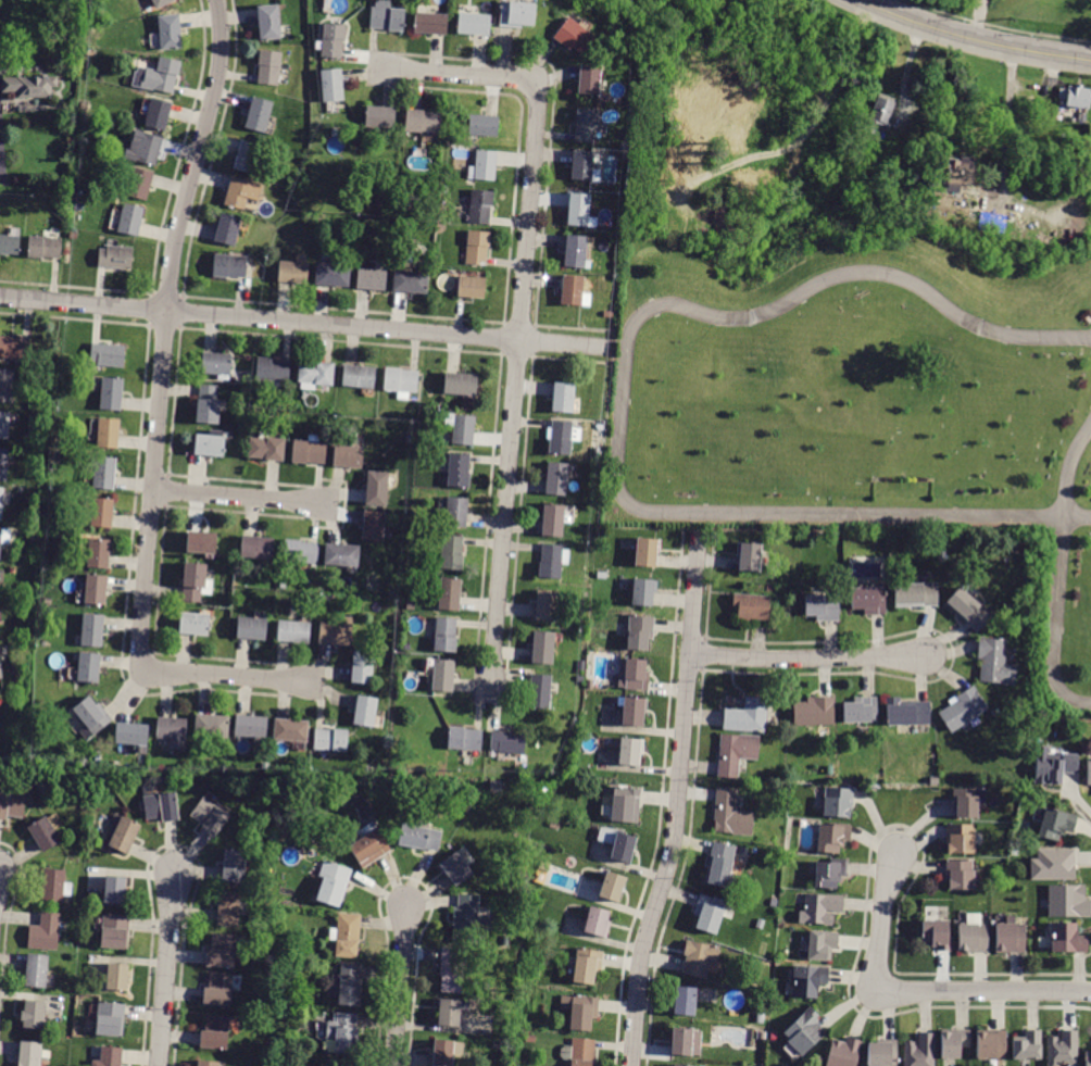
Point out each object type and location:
building: (161, 2)
building: (516, 14)
building: (387, 16)
building: (269, 22)
building: (430, 23)
building: (473, 24)
building: (170, 32)
building: (574, 37)
road: (973, 38)
building: (333, 40)
building: (89, 52)
building: (269, 67)
building: (156, 75)
building: (589, 79)
building: (30, 85)
building: (333, 85)
building: (1076, 96)
building: (629, 102)
building: (879, 111)
building: (159, 114)
building: (259, 114)
building: (379, 118)
building: (422, 121)
road: (1006, 124)
building: (482, 125)
building: (586, 125)
road: (812, 127)
building: (81, 142)
building: (149, 149)
building: (248, 156)
building: (680, 160)
building: (482, 166)
building: (585, 166)
building: (958, 174)
building: (622, 181)
building: (139, 183)
building: (242, 192)
building: (379, 203)
building: (480, 206)
building: (578, 209)
building: (929, 214)
building: (130, 220)
building: (228, 229)
building: (9, 244)
building: (45, 247)
building: (477, 248)
building: (576, 251)
building: (115, 256)
building: (230, 266)
building: (293, 273)
road: (853, 274)
building: (333, 275)
building: (372, 279)
building: (411, 281)
building: (472, 287)
building: (572, 290)
road: (522, 310)
road: (305, 323)
building: (14, 348)
building: (108, 354)
building: (217, 364)
building: (273, 372)
building: (316, 374)
building: (360, 377)
building: (401, 381)
building: (7, 385)
building: (462, 385)
building: (112, 393)
building: (564, 398)
park: (865, 398)
building: (209, 405)
building: (4, 425)
road: (156, 427)
building: (461, 428)
building: (599, 430)
building: (106, 432)
building: (562, 437)
building: (210, 444)
building: (267, 448)
building: (310, 451)
building: (595, 452)
building: (349, 456)
building: (3, 463)
building: (459, 471)
road: (1073, 471)
building: (103, 472)
building: (556, 478)
building: (377, 489)
road: (248, 499)
building: (1, 502)
building: (100, 512)
building: (456, 512)
road: (757, 517)
building: (553, 519)
road: (1078, 522)
building: (374, 526)
building: (603, 535)
building: (4, 537)
building: (202, 542)
building: (259, 549)
building: (301, 551)
building: (452, 552)
building: (645, 552)
building: (99, 553)
building: (941, 555)
building: (342, 556)
building: (749, 556)
building: (552, 561)
building: (601, 576)
building: (193, 581)
building: (96, 590)
building: (643, 592)
building: (450, 594)
building: (916, 595)
building: (868, 600)
building: (547, 604)
building: (414, 606)
building: (752, 606)
building: (823, 607)
building: (967, 610)
building: (193, 624)
road: (1055, 625)
building: (252, 628)
building: (92, 630)
building: (294, 631)
building: (337, 632)
building: (640, 632)
building: (446, 635)
building: (543, 648)
road: (808, 657)
building: (404, 659)
building: (994, 662)
building: (0, 667)
building: (86, 667)
building: (363, 667)
building: (442, 675)
building: (634, 675)
building: (539, 691)
building: (963, 708)
building: (365, 711)
building: (860, 711)
building: (634, 712)
building: (814, 712)
building: (907, 713)
building: (748, 716)
building: (91, 717)
building: (251, 726)
building: (213, 727)
building: (291, 730)
building: (173, 731)
building: (133, 736)
building: (465, 739)
building: (330, 740)
building: (507, 742)
building: (629, 751)
building: (736, 752)
building: (1055, 768)
building: (1089, 773)
building: (287, 781)
building: (933, 781)
building: (543, 786)
road: (677, 801)
building: (343, 803)
building: (965, 803)
building: (841, 804)
building: (12, 805)
building: (626, 805)
building: (162, 807)
building: (731, 814)
building: (210, 817)
building: (1056, 824)
building: (45, 833)
building: (125, 835)
building: (421, 837)
building: (832, 838)
building: (960, 839)
building: (618, 844)
building: (371, 846)
building: (723, 865)
building: (1053, 865)
building: (235, 866)
building: (456, 866)
building: (544, 867)
building: (830, 874)
building: (960, 875)
building: (331, 882)
building: (55, 886)
building: (612, 887)
building: (114, 890)
building: (1070, 905)
building: (228, 908)
building: (819, 908)
building: (712, 913)
building: (468, 920)
building: (597, 923)
building: (760, 924)
building: (115, 931)
building: (45, 932)
building: (936, 935)
building: (347, 936)
building: (971, 939)
building: (1008, 939)
building: (1073, 942)
building: (822, 944)
building: (222, 951)
building: (700, 958)
building: (587, 965)
road: (166, 968)
building: (36, 969)
building: (452, 970)
building: (116, 977)
building: (808, 980)
building: (349, 985)
road: (400, 985)
building: (218, 990)
road: (912, 992)
building: (685, 1001)
building: (580, 1011)
building: (450, 1012)
building: (33, 1014)
building: (761, 1017)
building: (110, 1019)
building: (804, 1031)
building: (215, 1032)
building: (343, 1033)
building: (762, 1036)
building: (529, 1039)
building: (285, 1042)
building: (686, 1042)
building: (954, 1043)
building: (991, 1044)
building: (498, 1045)
building: (1027, 1045)
building: (1063, 1050)
building: (920, 1051)
building: (447, 1052)
building: (582, 1052)
building: (29, 1053)
building: (843, 1053)
building: (879, 1054)
building: (109, 1057)
building: (1088, 1058)
building: (208, 1063)
building: (344, 1064)
building: (678, 1065)

